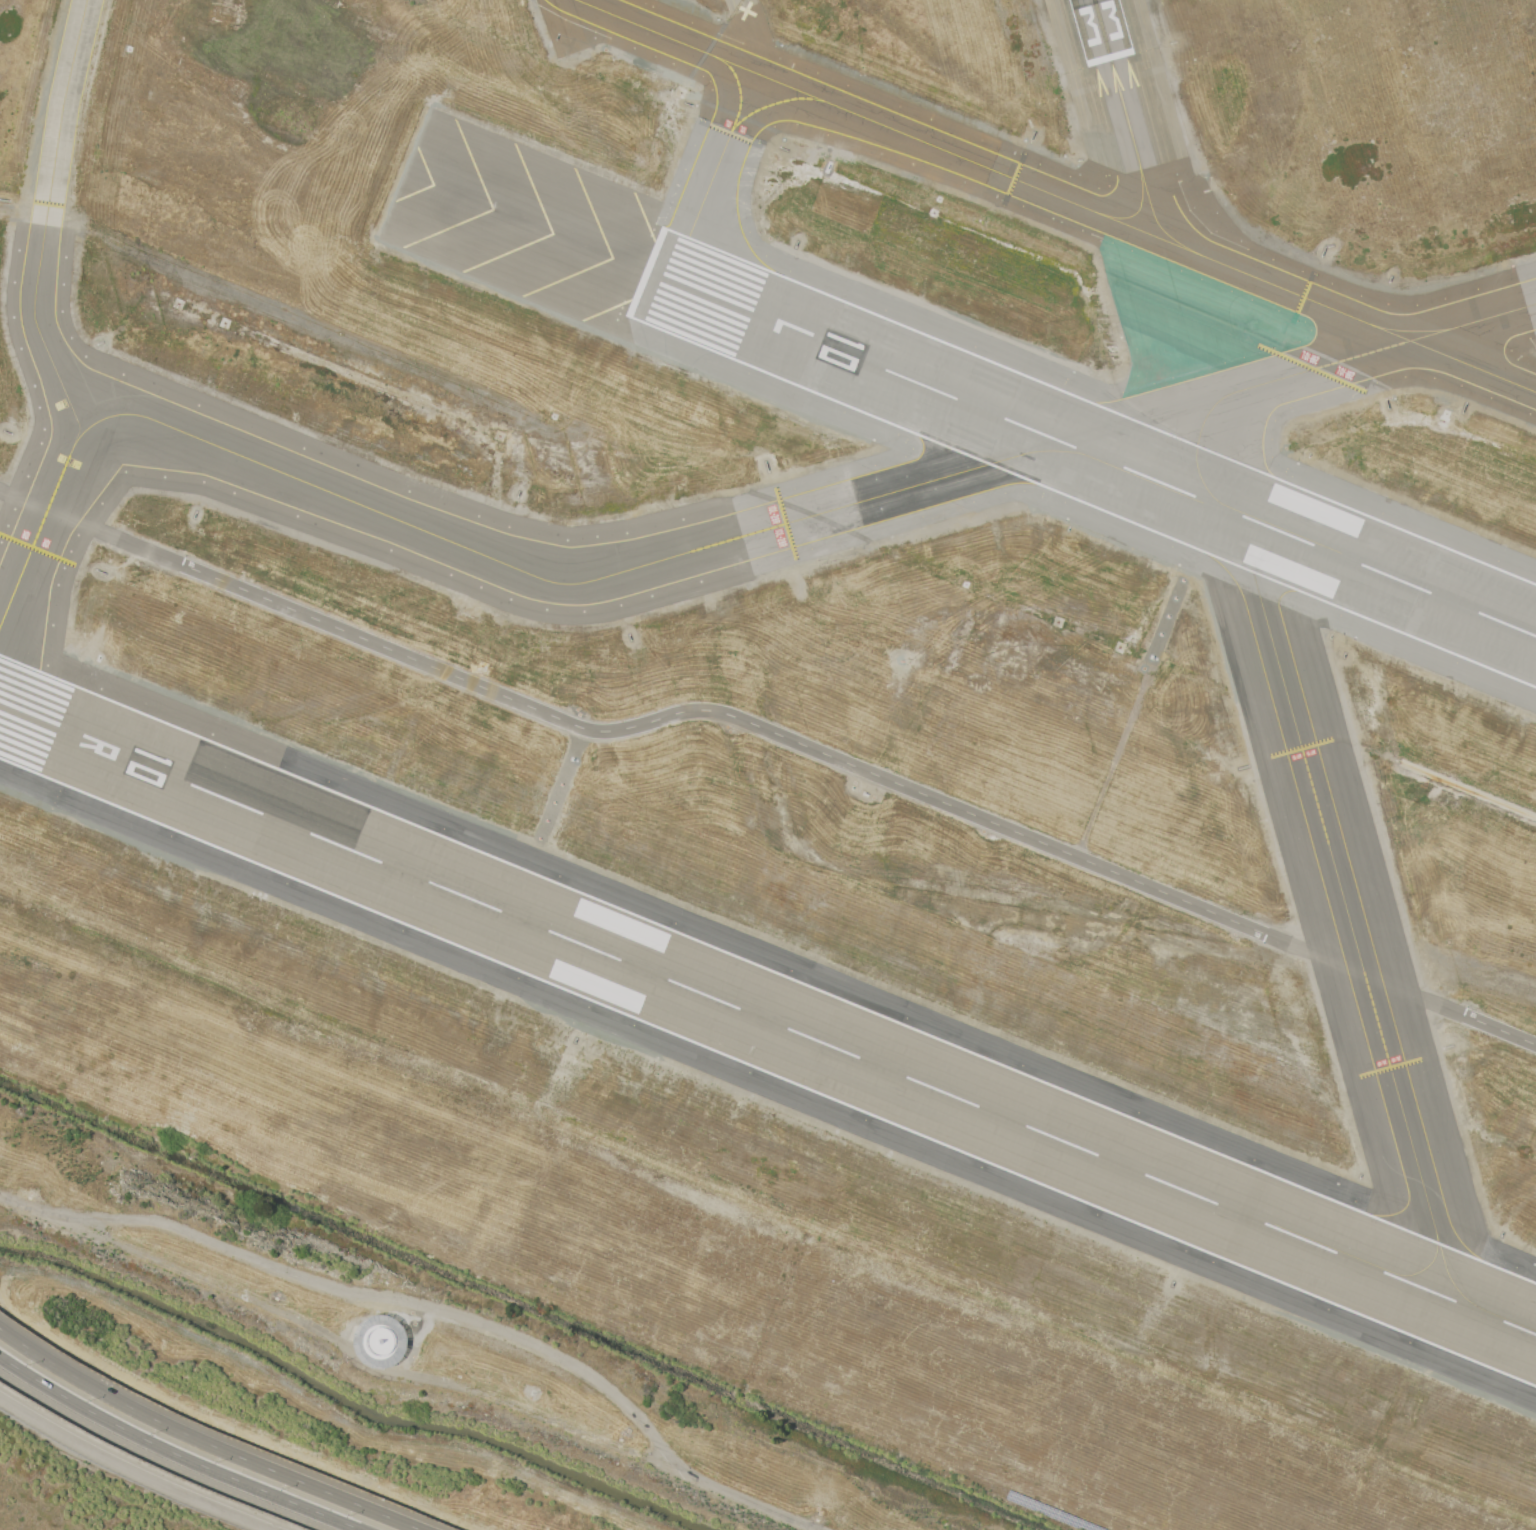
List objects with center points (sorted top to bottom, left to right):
airport runway: (1104, 30)
airport taxiway: (740, 98)
airport taxiway: (1124, 104)
airport taxiway: (766, 106)
airport taxiway: (1055, 195)
airport taxiway: (1139, 209)
airport taxiway: (1156, 219)
airport taxiway: (701, 220)
airport taxiway: (34, 321)
airport taxiway: (1410, 331)
airport taxiway: (1385, 348)
airport taxiway: (1073, 451)
airport runway: (1091, 454)
airport taxiway: (1196, 454)
airport taxiway: (554, 582)
road: (682, 712)
airport taxiway: (1300, 740)
airport: (768, 765)
road: (1449, 1003)
airport runway: (767, 1021)
airport taxiway: (1397, 1095)
airport taxiway: (1431, 1262)
airport taxiway: (1458, 1277)
road: (434, 1309)
road: (204, 1441)
road: (170, 1455)
road: (156, 1460)

